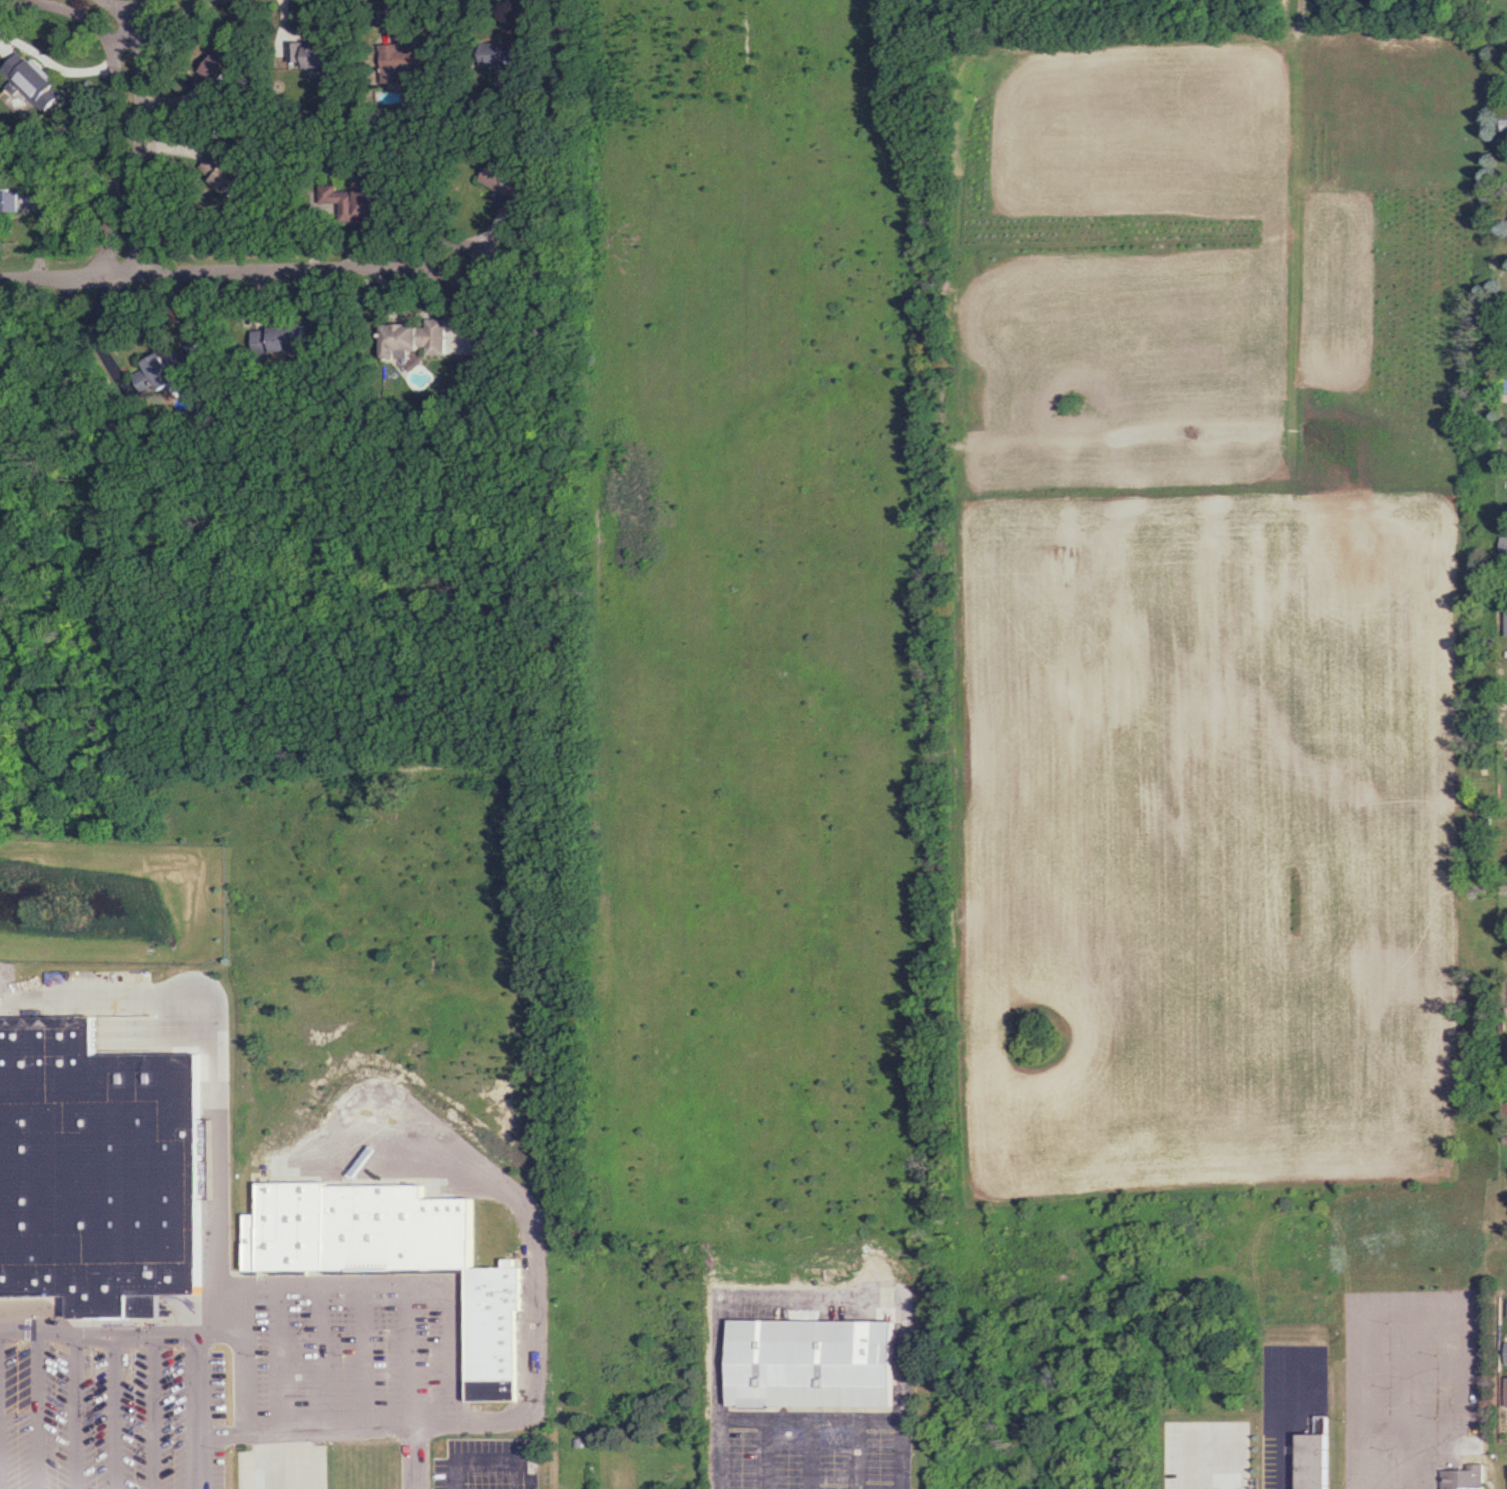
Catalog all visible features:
road: (157, 4)
road: (101, 9)
road: (146, 14)
building: (506, 53)
building: (312, 56)
building: (399, 60)
building: (224, 64)
building: (211, 67)
building: (32, 81)
building: (1506, 126)
road: (116, 145)
building: (228, 172)
building: (504, 185)
building: (362, 200)
building: (8, 205)
road: (217, 265)
building: (279, 338)
building: (416, 338)
building: (155, 373)
building: (1504, 544)
building: (1506, 616)
road: (157, 999)
building: (97, 1172)
building: (388, 1254)
road: (398, 1281)
road: (214, 1299)
road: (1387, 1313)
road: (533, 1324)
road: (119, 1332)
road: (1454, 1348)
road: (361, 1353)
building: (1505, 1353)
road: (317, 1354)
road: (276, 1356)
building: (804, 1364)
road: (408, 1385)
building: (1506, 1392)
road: (32, 1410)
road: (72, 1410)
road: (112, 1410)
road: (153, 1410)
road: (829, 1421)
road: (256, 1432)
road: (1284, 1442)
road: (803, 1455)
road: (856, 1455)
building: (1308, 1461)
building: (1463, 1478)
road: (1201, 1485)

